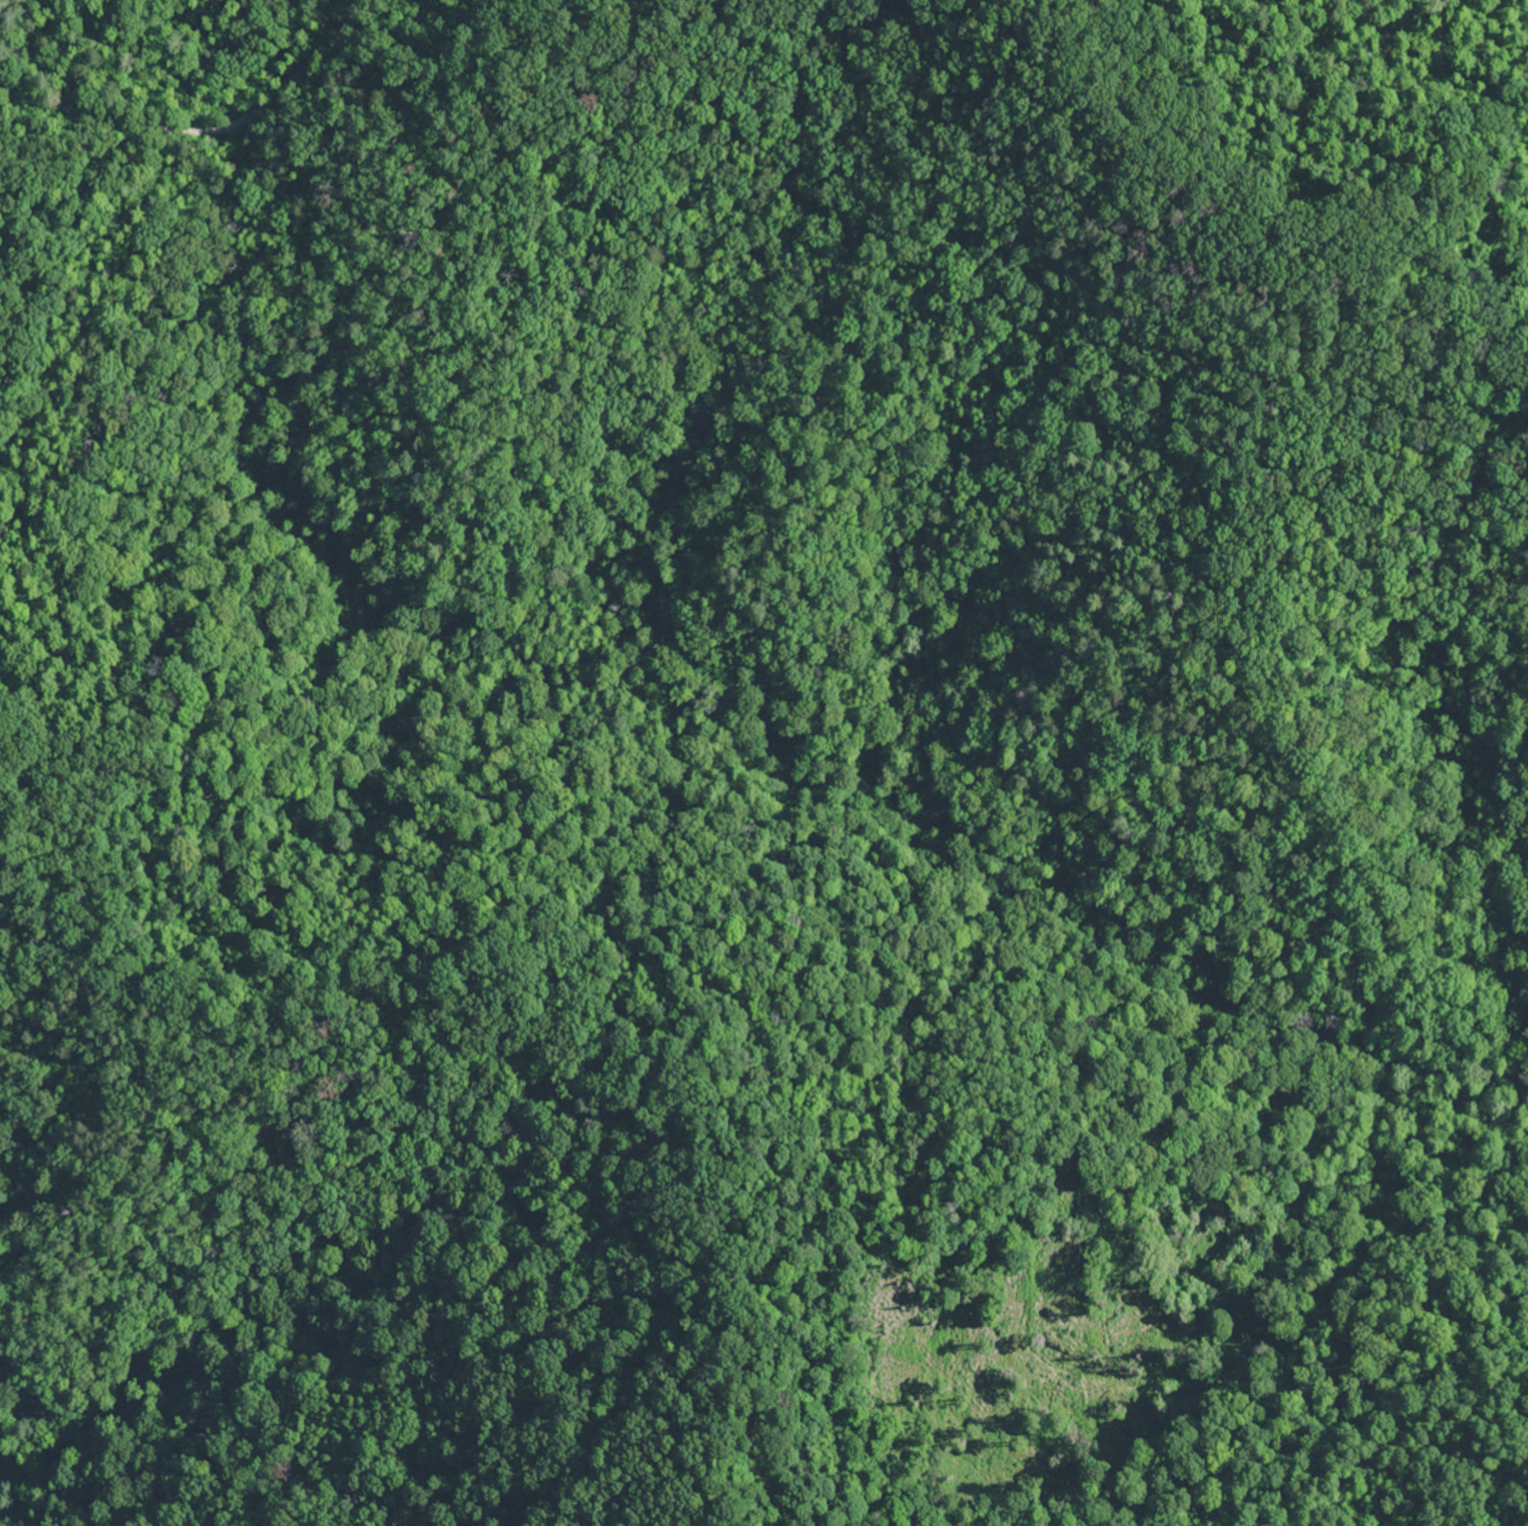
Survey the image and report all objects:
road: (1443, 60)
road: (196, 132)

